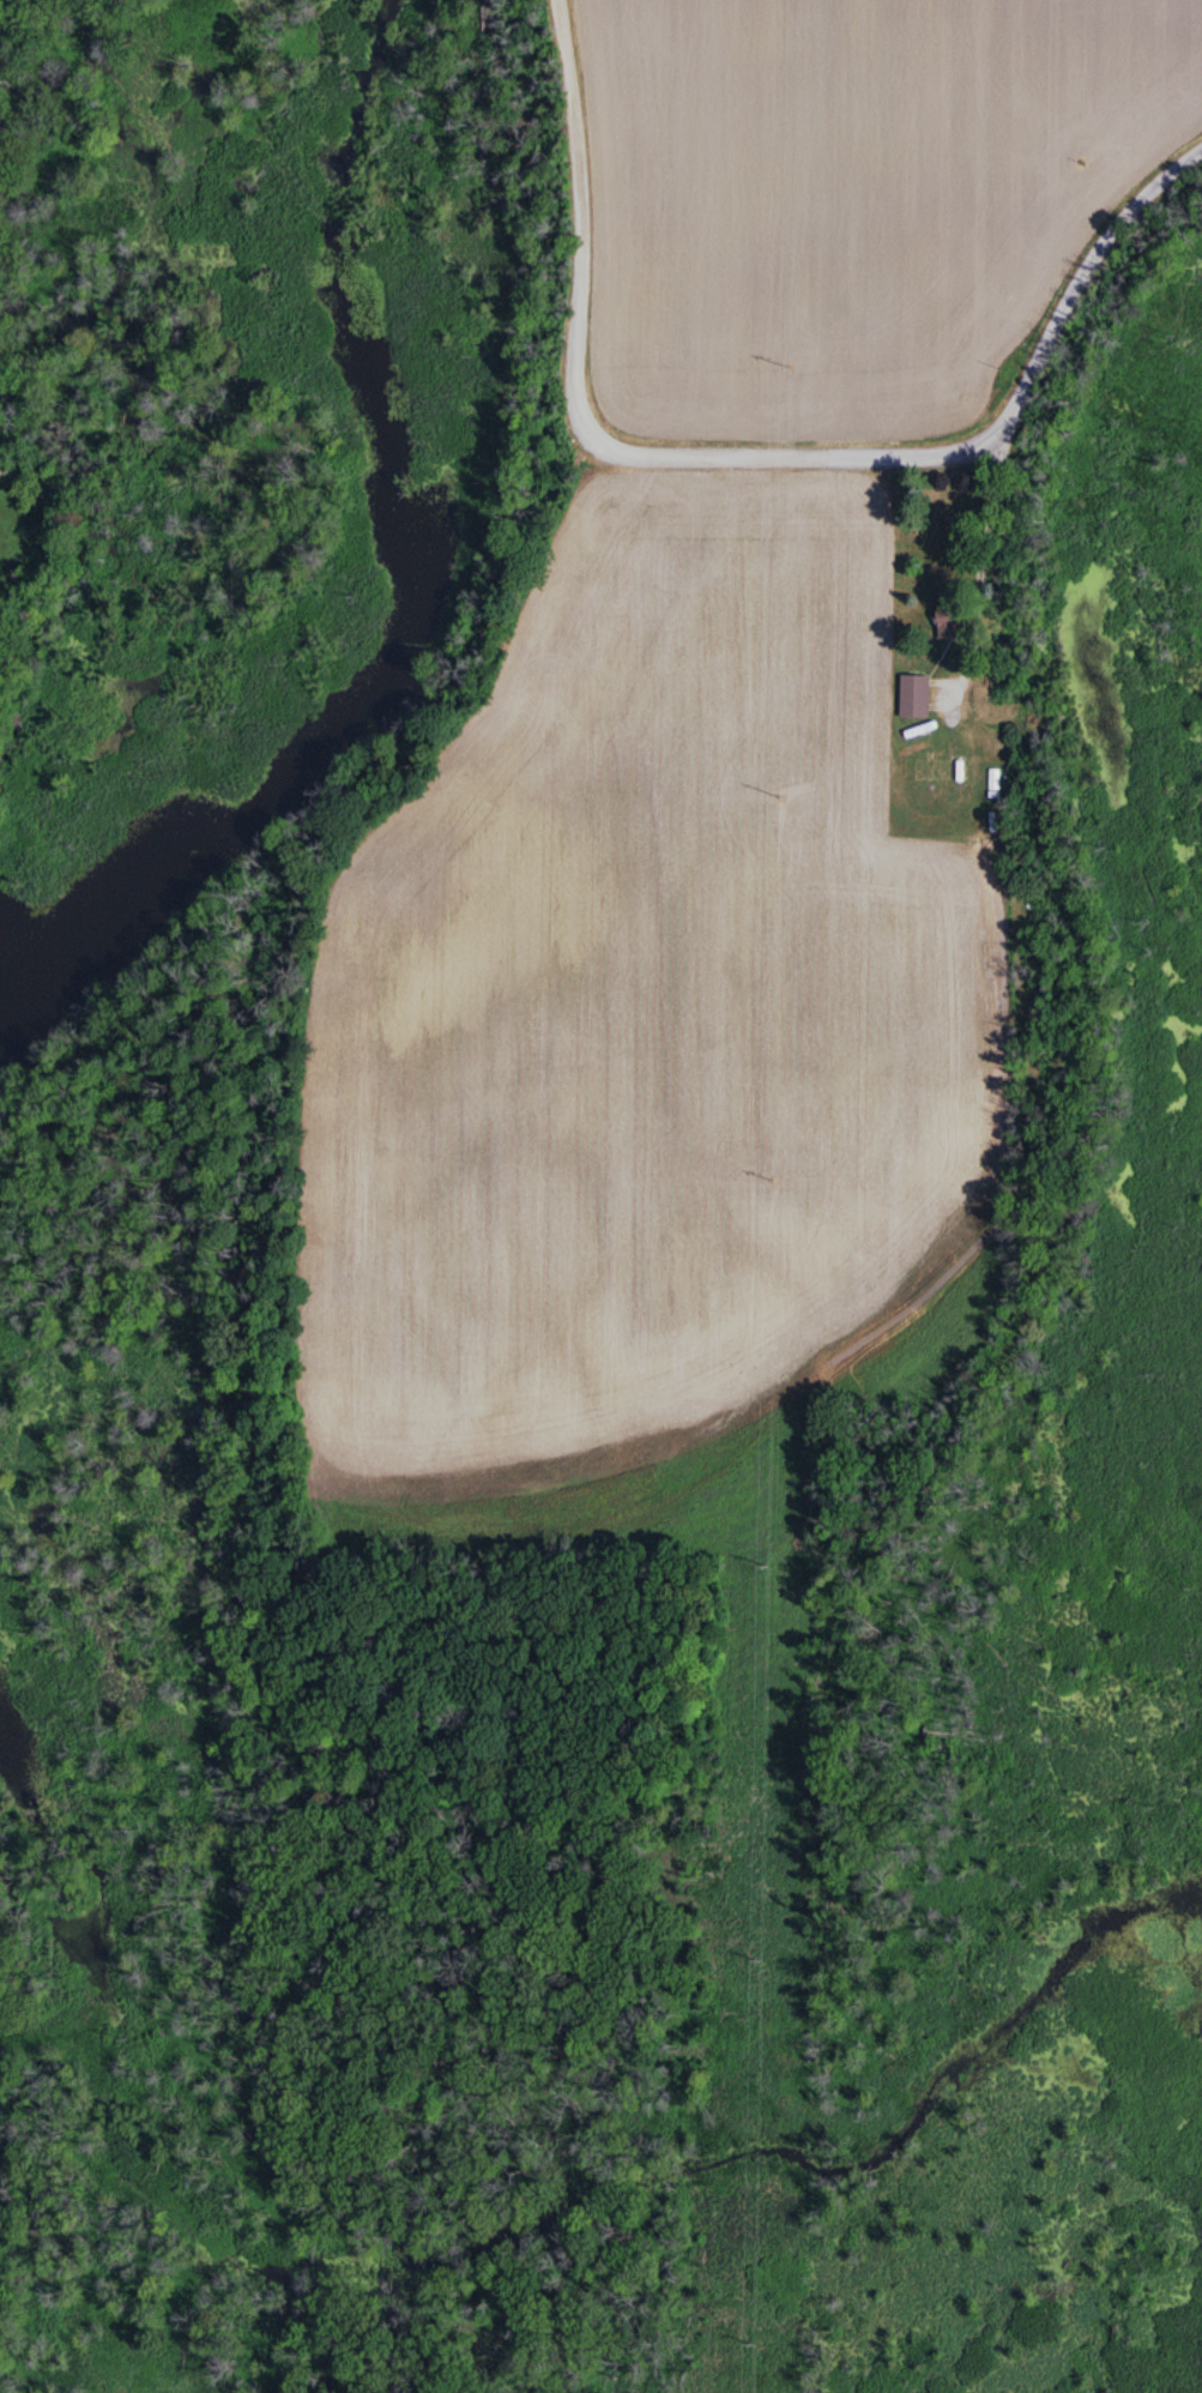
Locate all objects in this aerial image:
power tower: (791, 363)
road: (753, 451)
road: (983, 556)
river: (406, 597)
building: (953, 619)
building: (916, 695)
building: (935, 770)
power tower: (783, 795)
power tower: (775, 1177)
power tower: (768, 1568)
power tower: (760, 1951)
river: (453, 2226)
power tower: (751, 2338)

